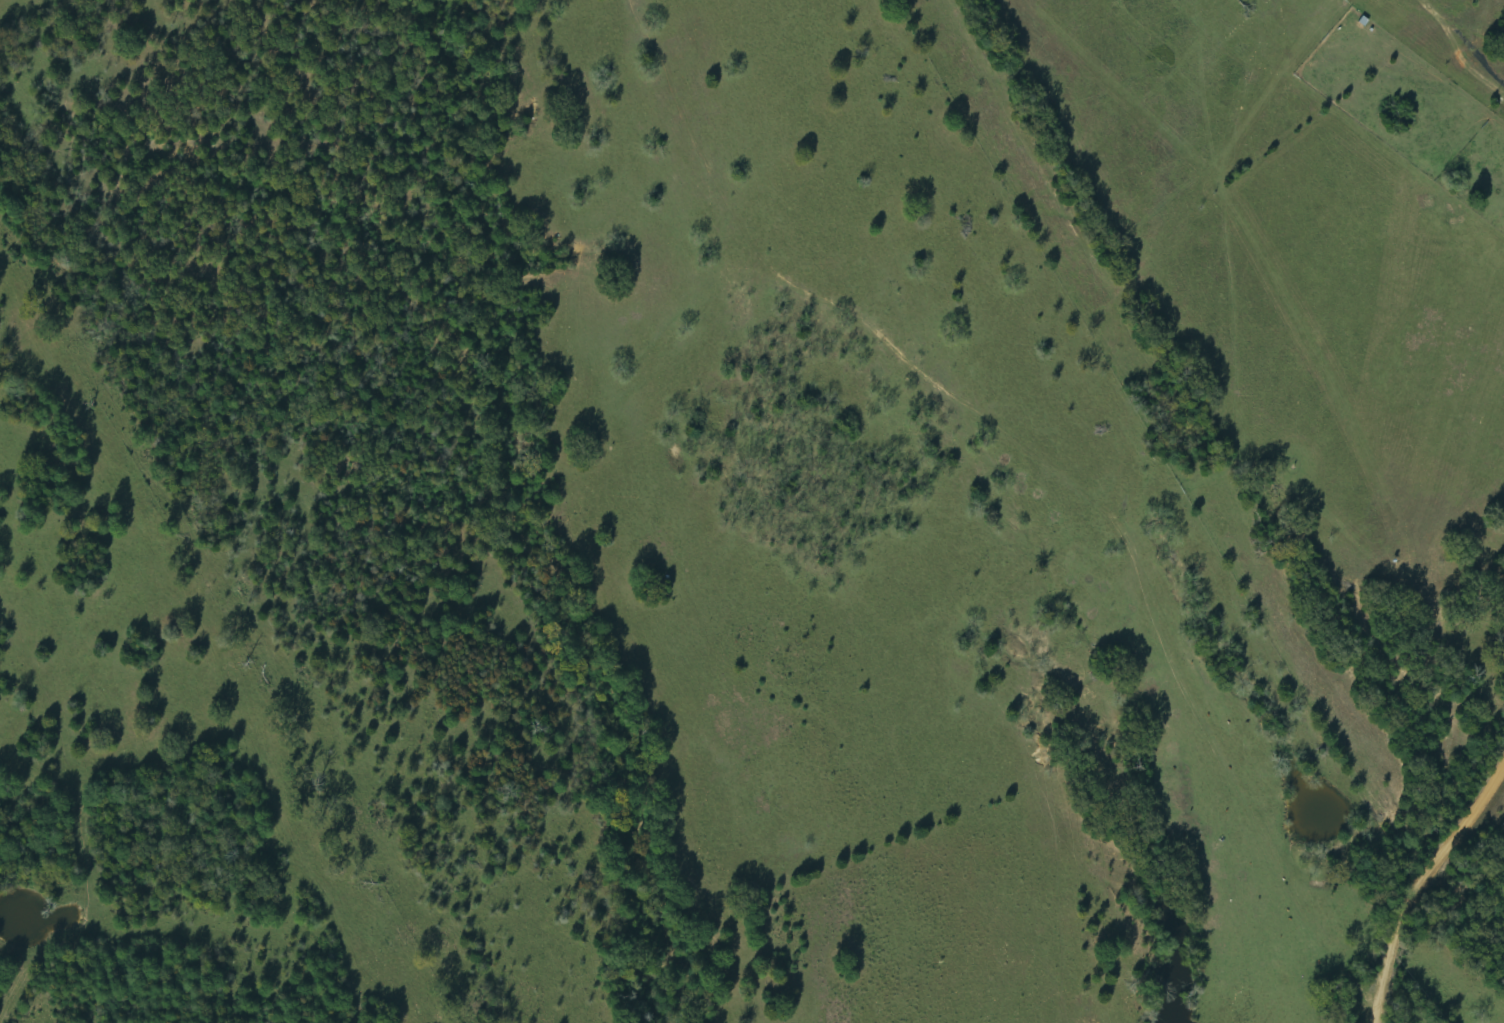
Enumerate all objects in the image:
road: (1415, 888)

